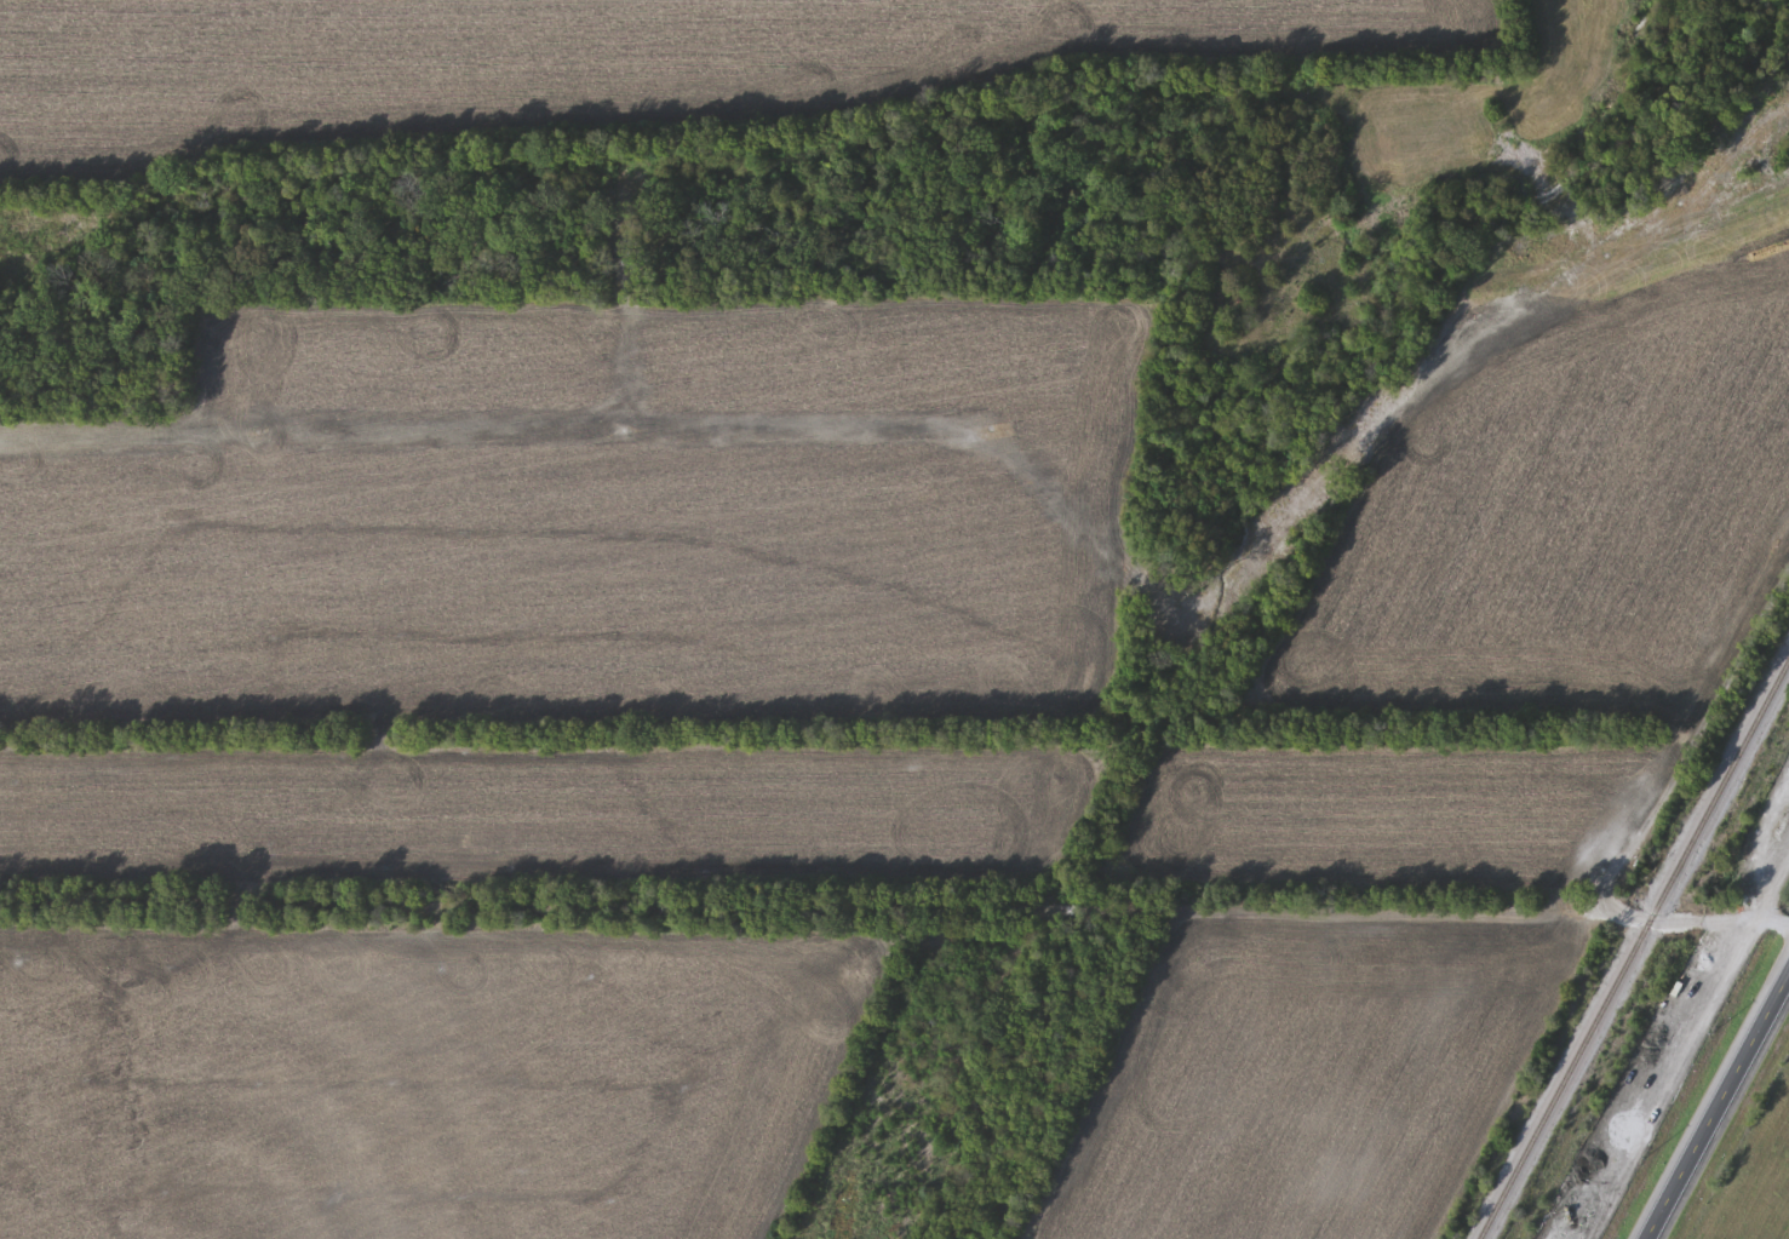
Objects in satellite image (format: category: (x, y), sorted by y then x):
road: (1676, 920)
railway: (1634, 948)
railway: (1676, 1027)
road: (1718, 1105)

